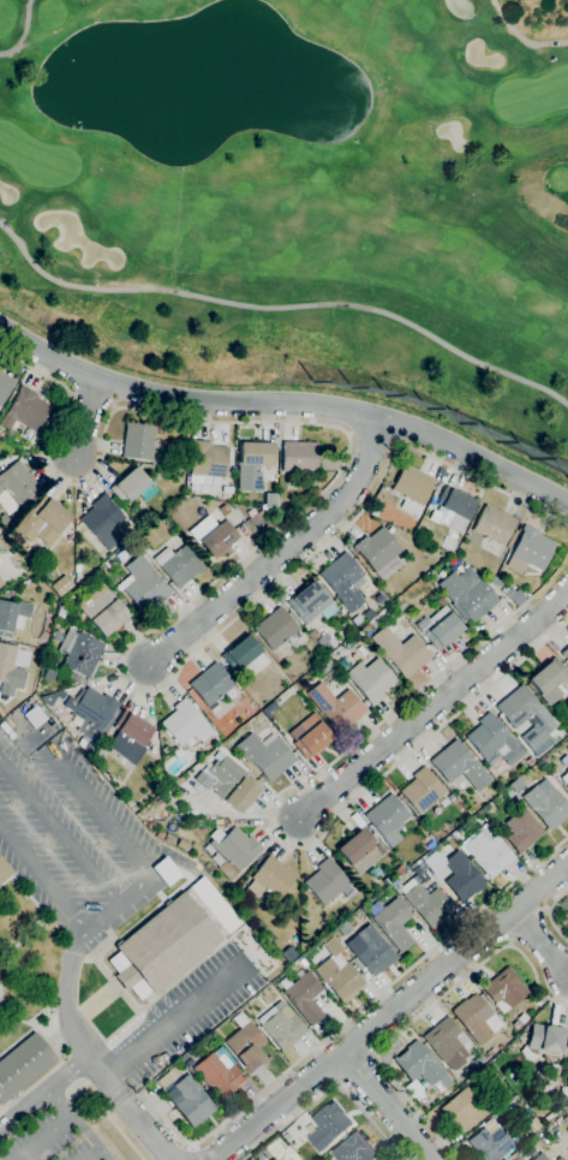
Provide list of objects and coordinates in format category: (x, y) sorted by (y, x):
road: (24, 34)
road: (520, 37)
park: (531, 97)
park: (37, 159)
park: (297, 202)
road: (280, 308)
building: (5, 386)
road: (286, 401)
building: (25, 410)
road: (86, 420)
building: (160, 432)
building: (140, 441)
building: (299, 457)
building: (208, 459)
building: (253, 463)
building: (17, 483)
building: (132, 487)
building: (412, 488)
building: (227, 489)
building: (270, 500)
building: (453, 508)
building: (223, 510)
building: (5, 520)
building: (42, 520)
building: (103, 522)
building: (494, 525)
building: (418, 533)
building: (219, 539)
building: (512, 539)
building: (377, 548)
building: (530, 551)
road: (281, 553)
building: (0, 560)
building: (178, 565)
building: (77, 575)
road: (220, 576)
building: (343, 581)
building: (495, 581)
building: (1, 582)
building: (143, 584)
building: (467, 596)
building: (378, 599)
building: (519, 600)
building: (309, 601)
building: (102, 609)
building: (61, 612)
building: (13, 617)
building: (275, 629)
building: (366, 629)
building: (443, 631)
building: (315, 635)
building: (325, 643)
building: (352, 643)
building: (401, 652)
building: (79, 653)
building: (241, 653)
building: (564, 653)
building: (341, 664)
building: (11, 668)
building: (327, 672)
building: (48, 676)
building: (371, 679)
building: (548, 680)
building: (211, 684)
road: (434, 703)
building: (336, 707)
building: (268, 709)
building: (91, 712)
building: (525, 712)
building: (186, 725)
building: (562, 733)
building: (131, 737)
building: (311, 737)
building: (494, 739)
building: (567, 749)
building: (166, 750)
building: (265, 755)
building: (530, 761)
building: (459, 766)
building: (566, 778)
building: (233, 784)
building: (516, 785)
building: (567, 787)
building: (421, 790)
building: (159, 802)
building: (546, 804)
road: (270, 814)
building: (387, 815)
road: (101, 820)
building: (219, 823)
building: (522, 831)
road: (58, 832)
building: (431, 843)
building: (232, 850)
building: (359, 850)
building: (490, 856)
building: (399, 869)
building: (4, 870)
building: (373, 872)
building: (420, 873)
road: (42, 876)
building: (462, 876)
building: (269, 880)
building: (325, 881)
building: (383, 884)
building: (425, 903)
building: (567, 912)
road: (550, 915)
building: (394, 923)
building: (343, 928)
building: (172, 940)
road: (540, 942)
building: (331, 946)
building: (373, 951)
building: (288, 954)
building: (340, 978)
building: (504, 991)
building: (303, 997)
road: (423, 1011)
road: (390, 1013)
road: (353, 1017)
building: (476, 1018)
road: (68, 1022)
road: (165, 1022)
building: (515, 1025)
building: (282, 1029)
building: (567, 1029)
building: (543, 1041)
building: (447, 1042)
building: (246, 1045)
building: (489, 1053)
building: (567, 1054)
building: (186, 1060)
building: (478, 1061)
building: (23, 1065)
building: (552, 1067)
building: (420, 1069)
road: (358, 1071)
building: (219, 1073)
road: (70, 1076)
building: (165, 1079)
building: (546, 1087)
road: (329, 1089)
road: (43, 1090)
building: (563, 1093)
building: (419, 1096)
building: (190, 1100)
road: (387, 1107)
building: (464, 1110)
building: (554, 1112)
road: (110, 1118)
road: (77, 1123)
building: (328, 1126)
building: (531, 1126)
road: (148, 1130)
building: (567, 1131)
road: (42, 1137)
building: (513, 1137)
parking lot: (47, 1140)
building: (489, 1143)
building: (354, 1149)
building: (567, 1150)
road: (198, 1152)
road: (95, 1155)
building: (540, 1156)
building: (276, 1159)
building: (560, 1159)

